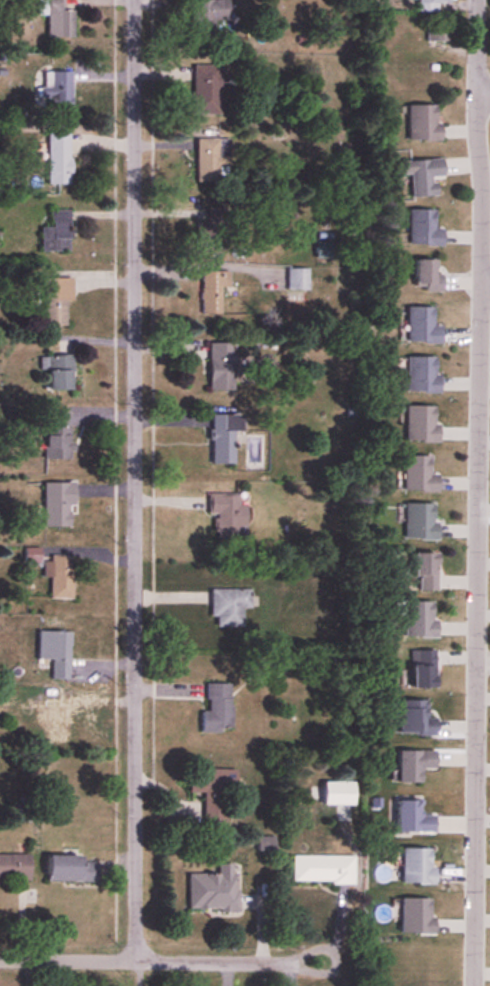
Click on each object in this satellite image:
building: (435, 1)
building: (210, 15)
building: (58, 18)
road: (476, 46)
building: (58, 89)
building: (207, 90)
road: (483, 93)
building: (424, 123)
building: (60, 159)
building: (213, 161)
building: (424, 177)
building: (421, 227)
building: (58, 233)
building: (212, 234)
building: (324, 254)
building: (427, 277)
building: (298, 280)
road: (484, 283)
building: (214, 291)
building: (57, 301)
building: (422, 326)
building: (222, 366)
building: (60, 372)
building: (423, 374)
building: (423, 423)
building: (59, 436)
building: (225, 437)
building: (420, 474)
road: (135, 481)
building: (224, 502)
building: (58, 503)
building: (421, 521)
road: (476, 539)
building: (428, 571)
building: (60, 576)
building: (229, 606)
building: (421, 618)
building: (56, 652)
building: (426, 668)
building: (218, 708)
building: (54, 715)
building: (417, 718)
building: (415, 764)
building: (340, 793)
building: (215, 797)
building: (414, 817)
building: (419, 866)
building: (15, 867)
building: (72, 869)
building: (324, 869)
building: (215, 890)
building: (418, 916)
road: (160, 962)

